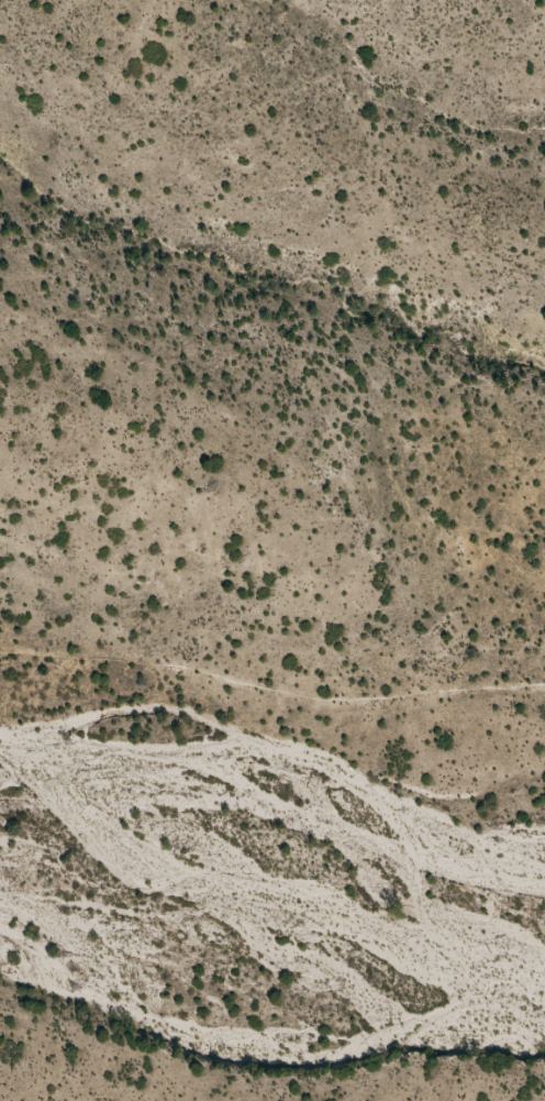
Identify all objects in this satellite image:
road: (270, 689)
river: (277, 812)

